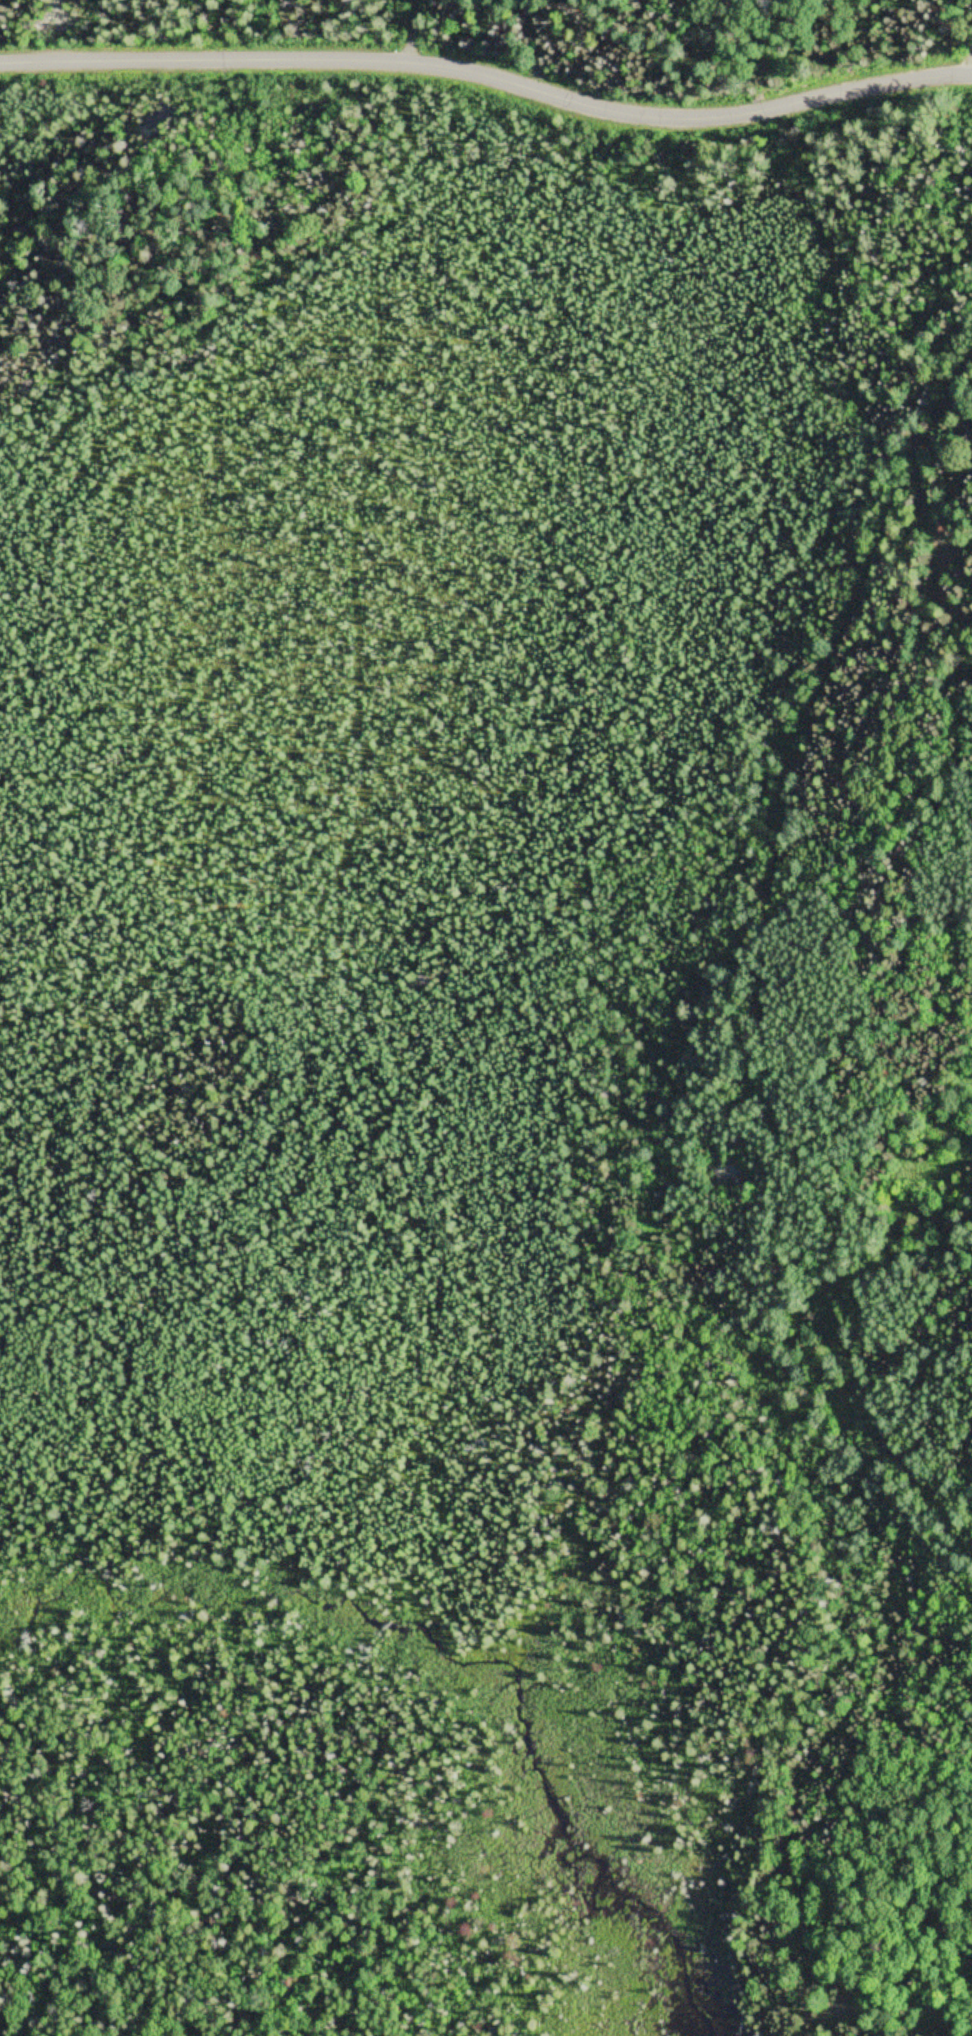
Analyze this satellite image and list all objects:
road: (190, 33)
road: (960, 39)
road: (96, 68)
road: (970, 78)
road: (579, 109)

